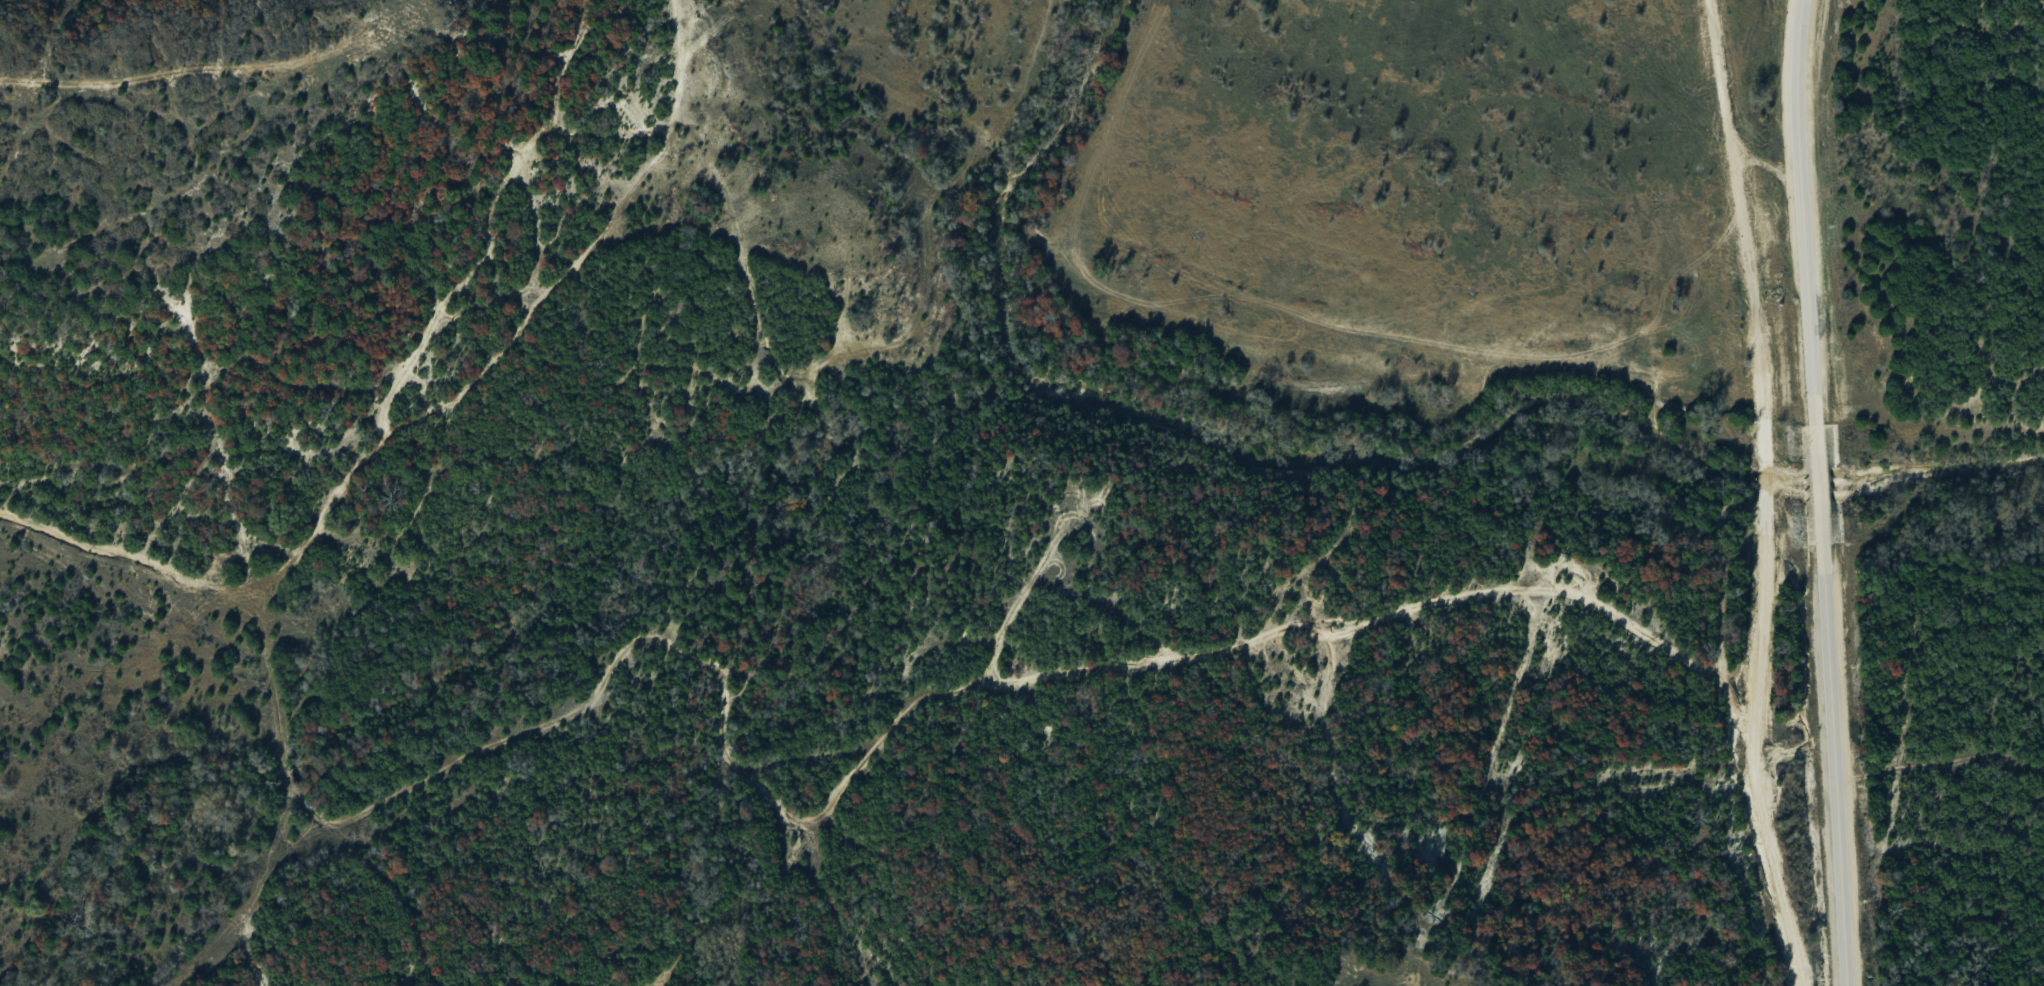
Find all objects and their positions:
road: (1821, 492)
road: (1764, 494)

